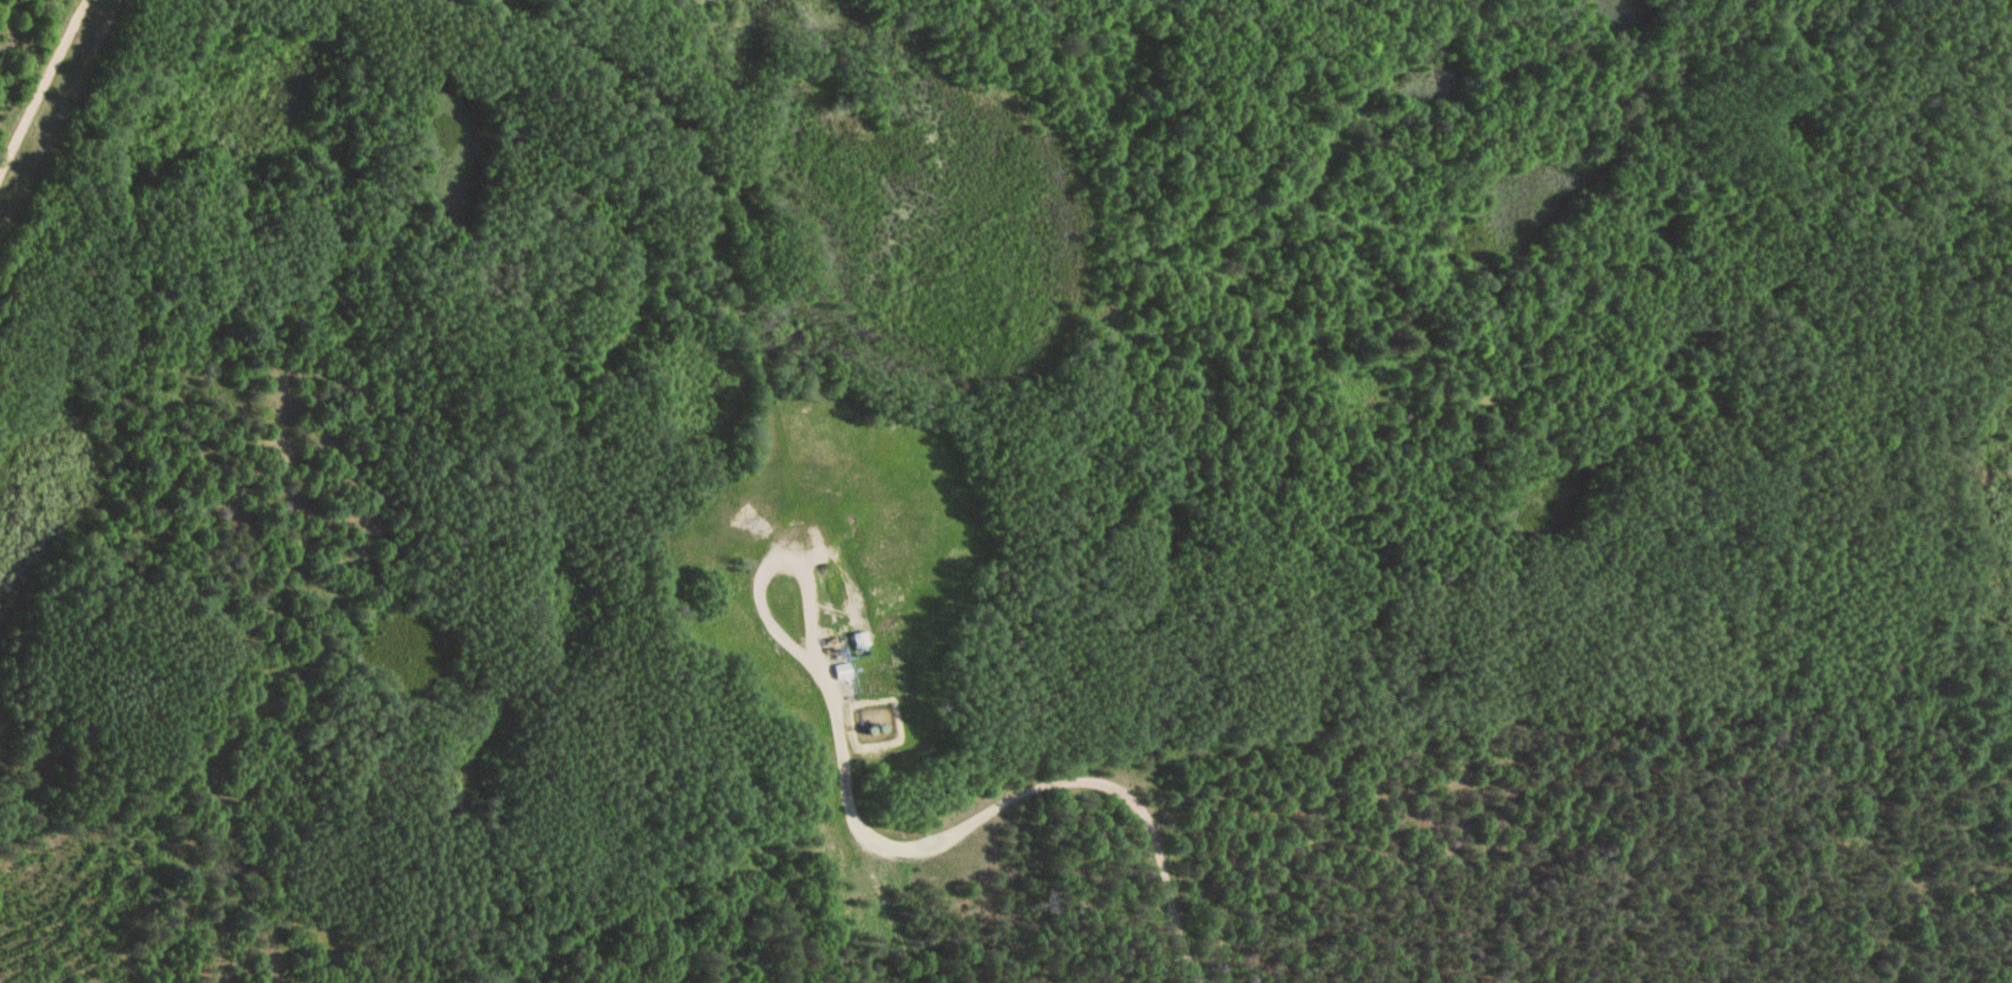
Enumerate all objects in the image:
road: (41, 87)
road: (804, 611)
building: (839, 672)
road: (883, 916)

